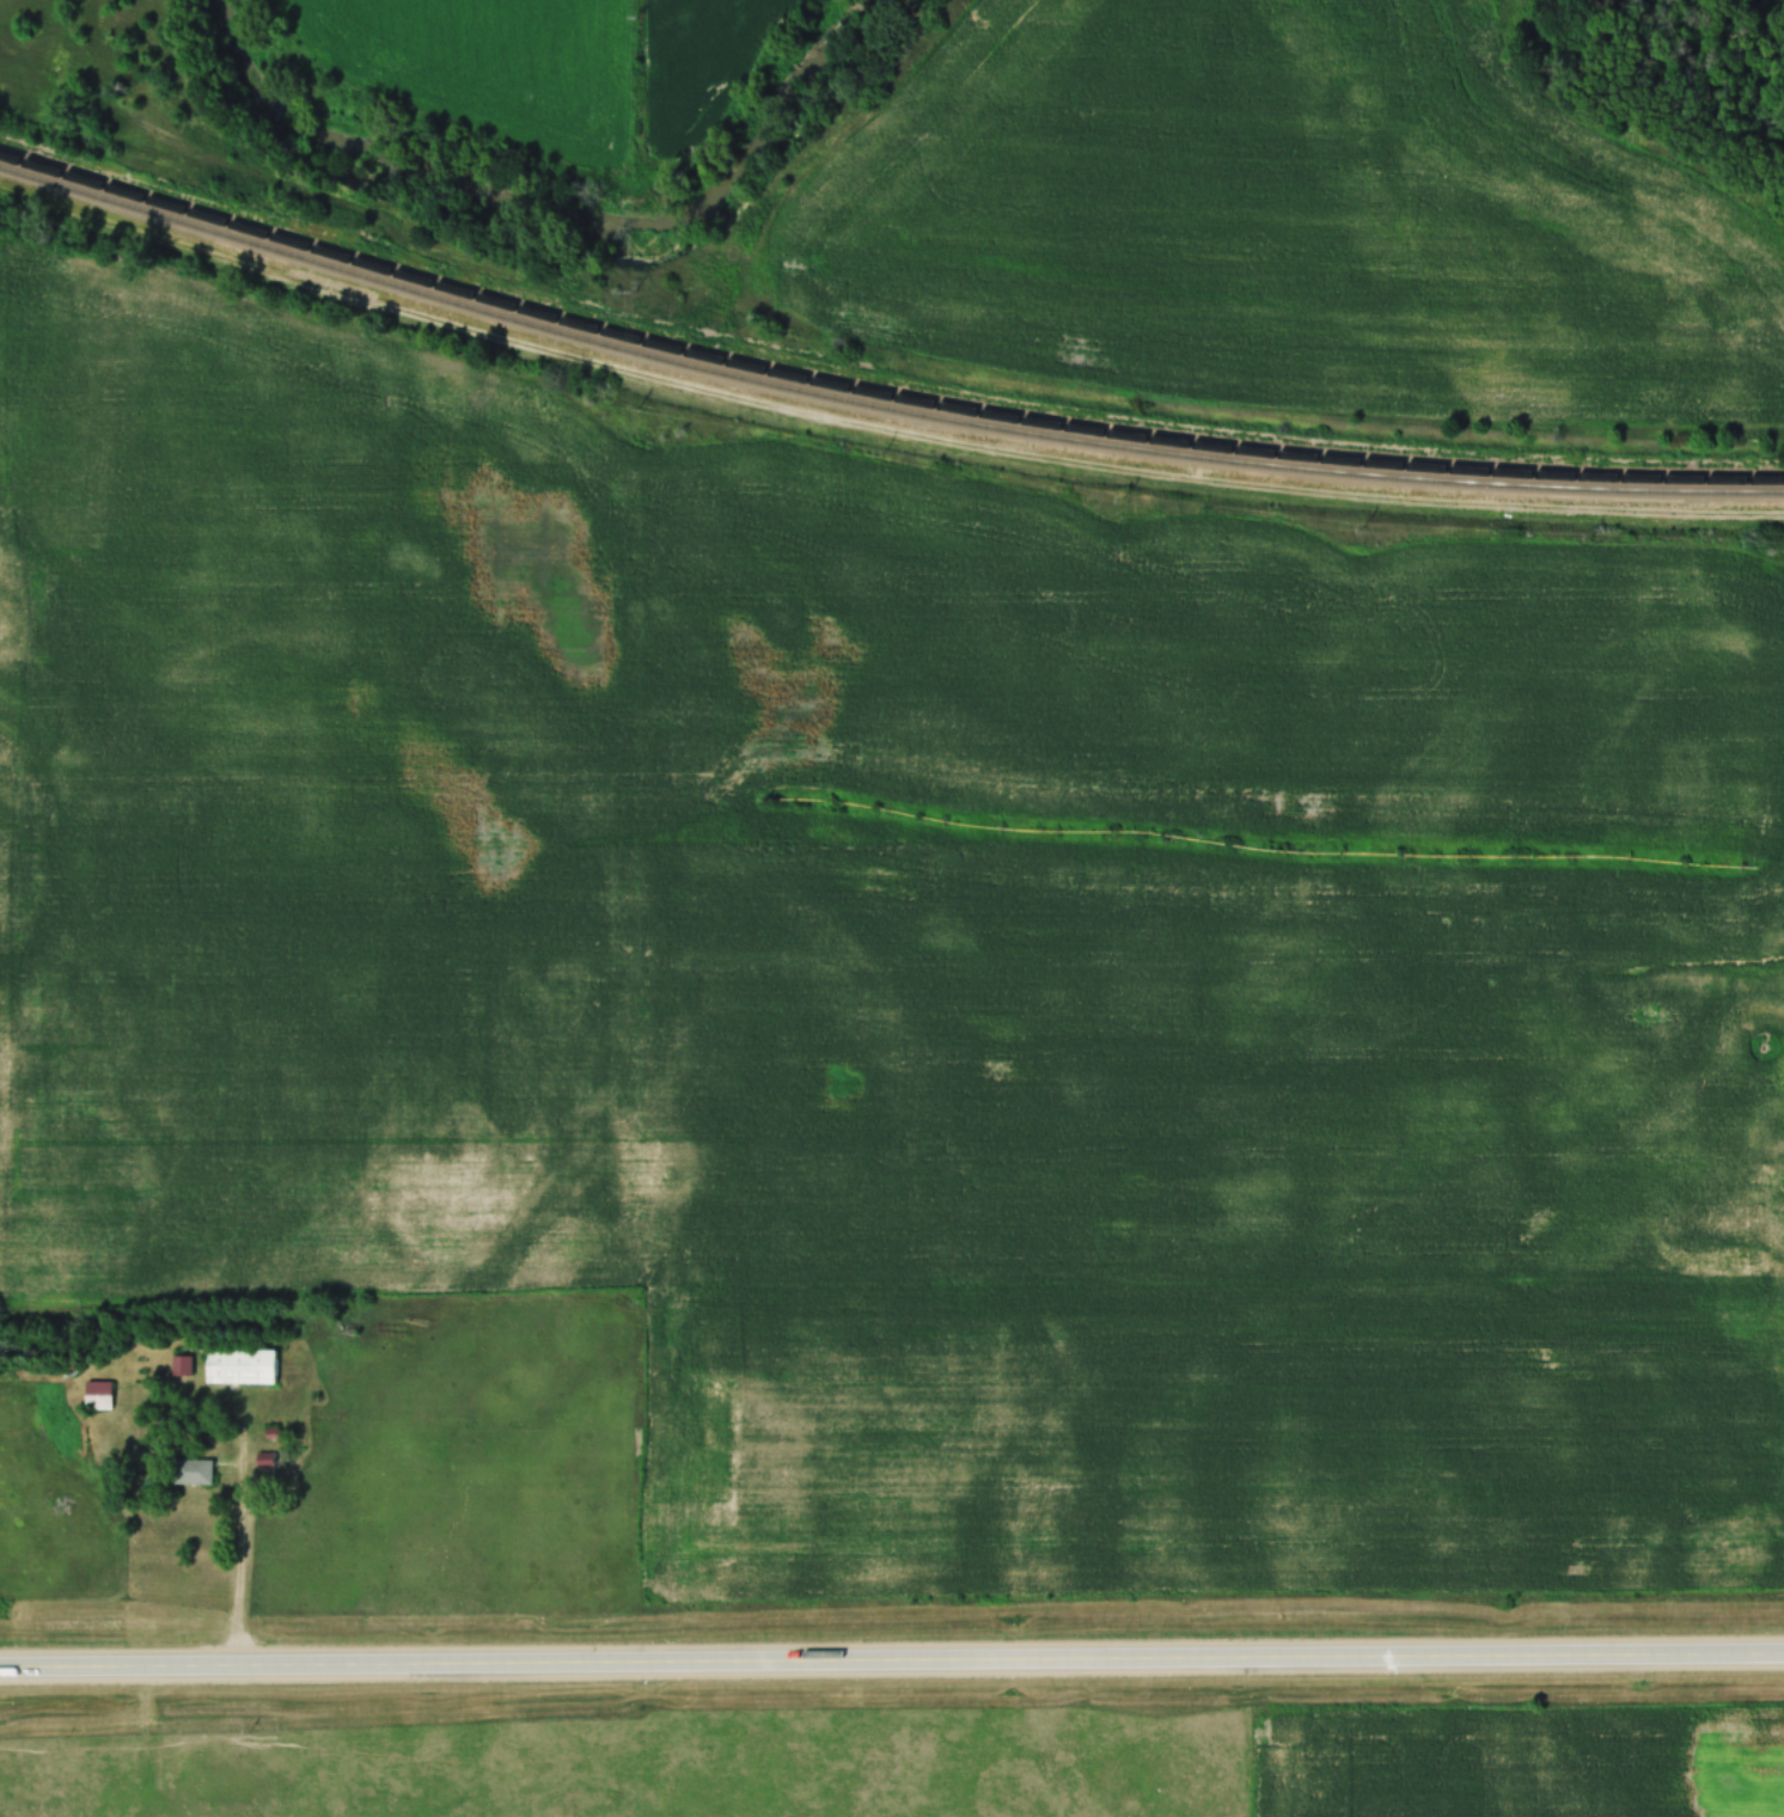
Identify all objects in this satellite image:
railway: (878, 390)
railway: (878, 405)
building: (178, 1364)
building: (237, 1365)
building: (96, 1394)
building: (190, 1470)
road: (243, 1527)
road: (892, 1656)

